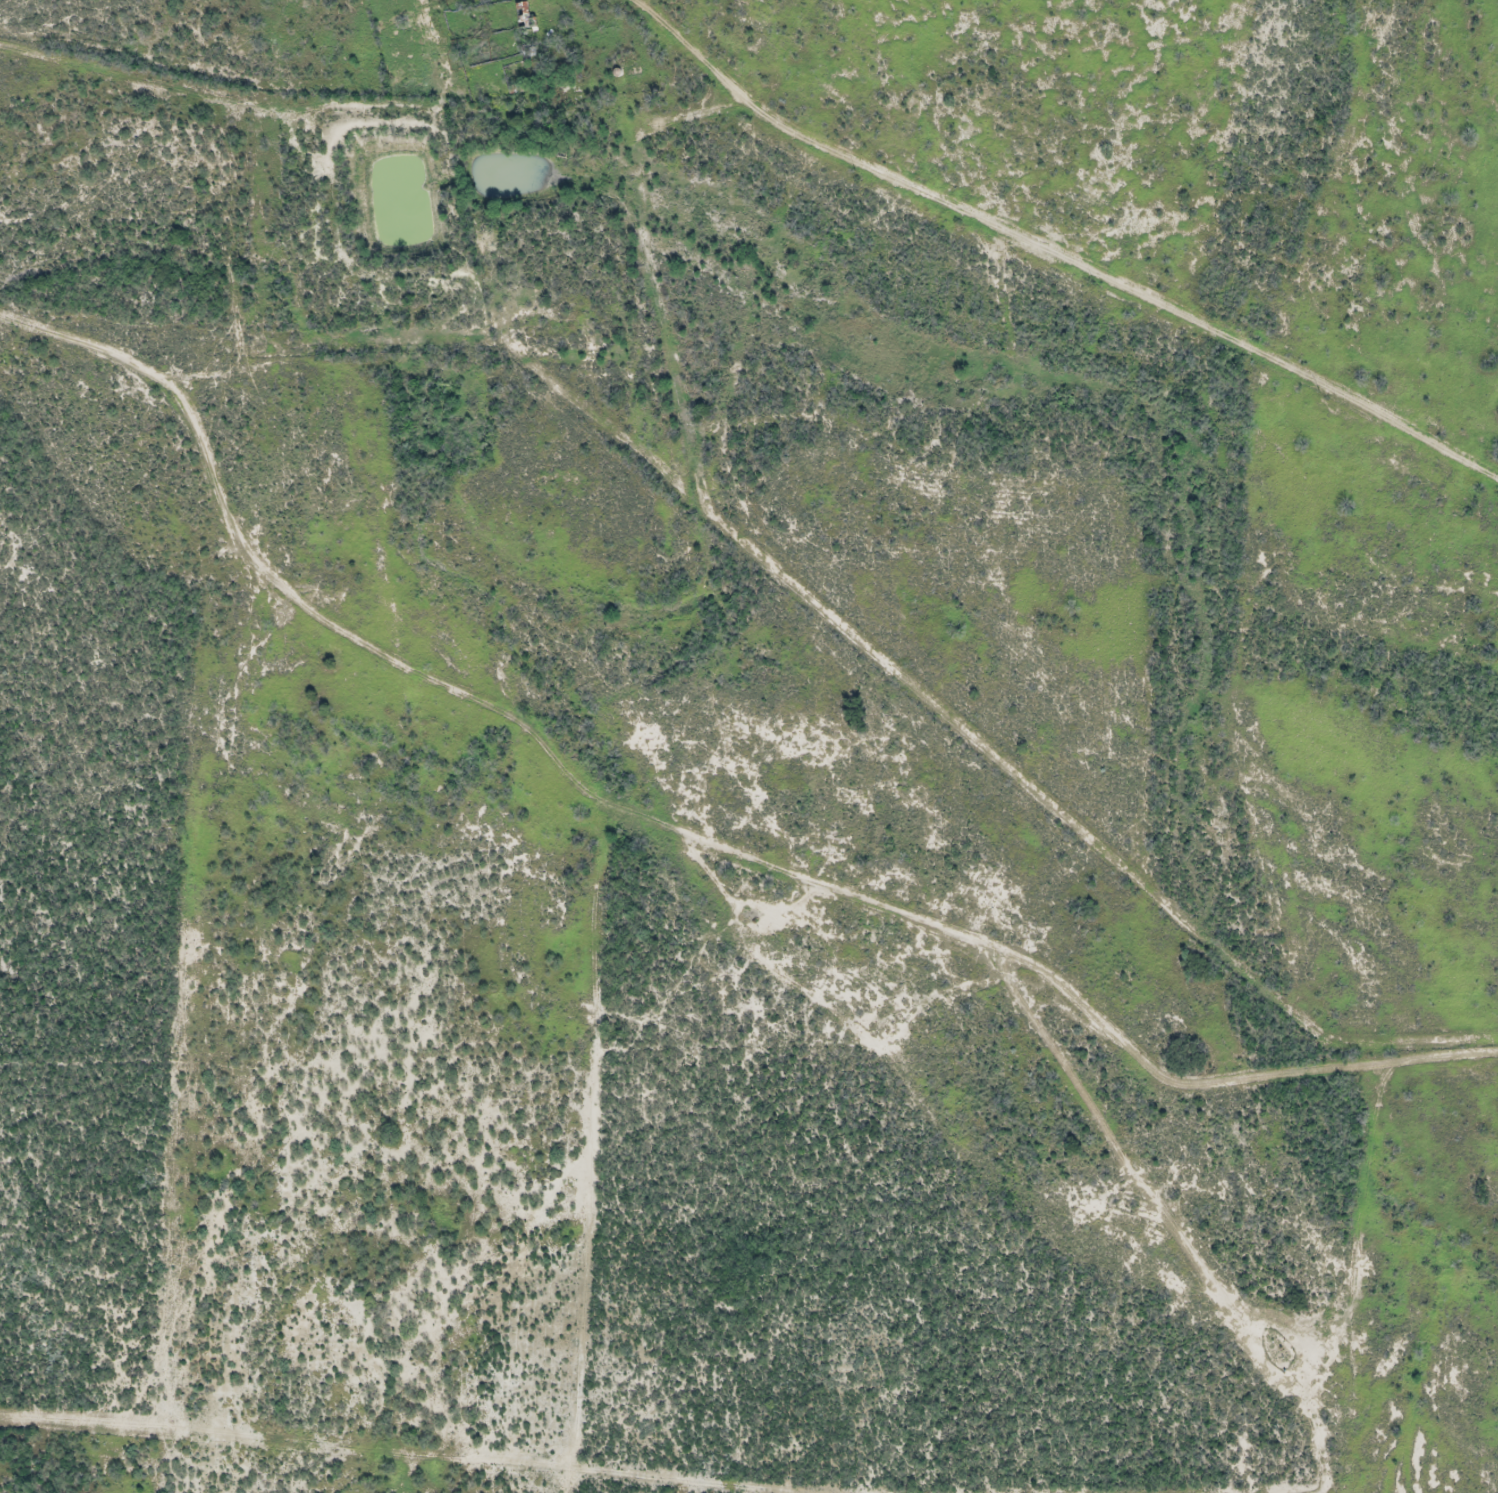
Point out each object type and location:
building: (525, 17)
building: (636, 70)
building: (576, 90)
road: (1047, 263)

